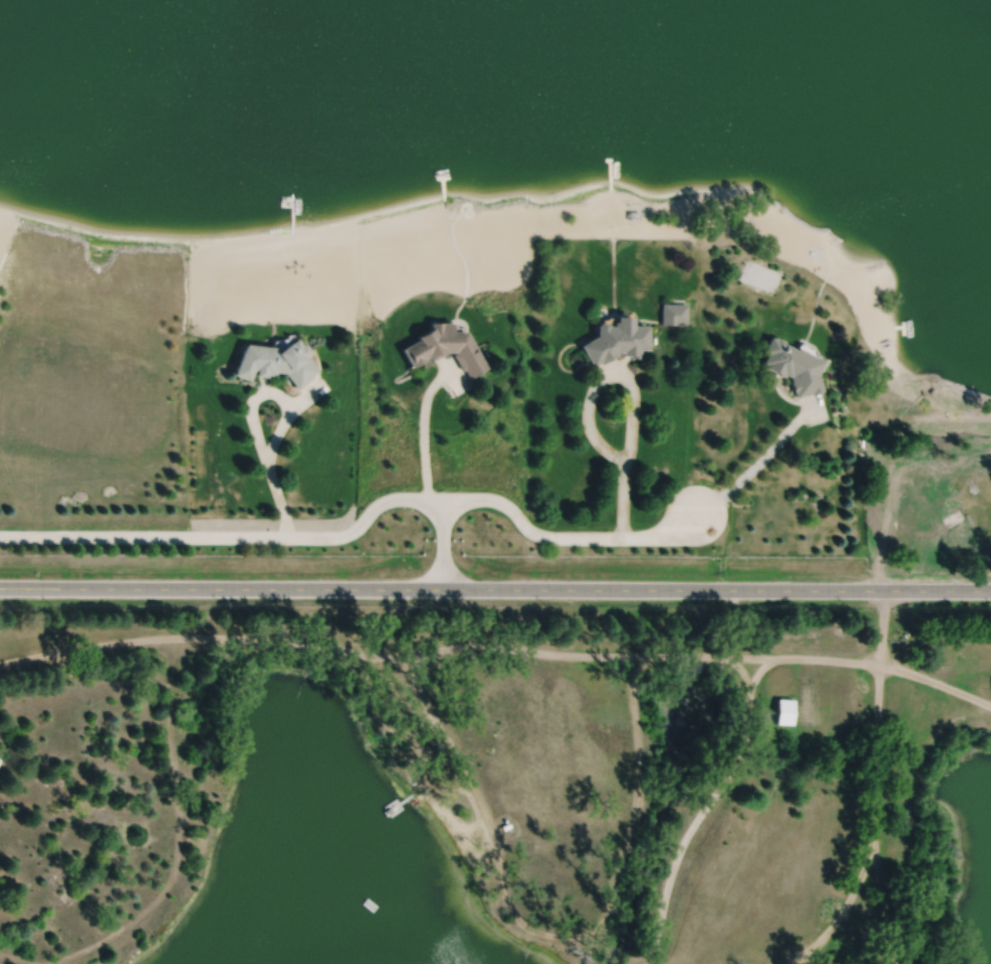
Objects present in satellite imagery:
building: (672, 313)
building: (614, 341)
building: (444, 348)
building: (273, 363)
building: (791, 365)
road: (631, 387)
road: (305, 395)
road: (249, 417)
road: (422, 428)
road: (758, 462)
building: (924, 507)
road: (228, 536)
road: (567, 537)
road: (443, 543)
road: (495, 588)
road: (390, 658)
road: (935, 681)
building: (782, 709)
road: (734, 763)
road: (874, 792)
road: (635, 816)
road: (490, 821)
building: (505, 826)
road: (884, 905)
road: (808, 958)
road: (596, 963)

